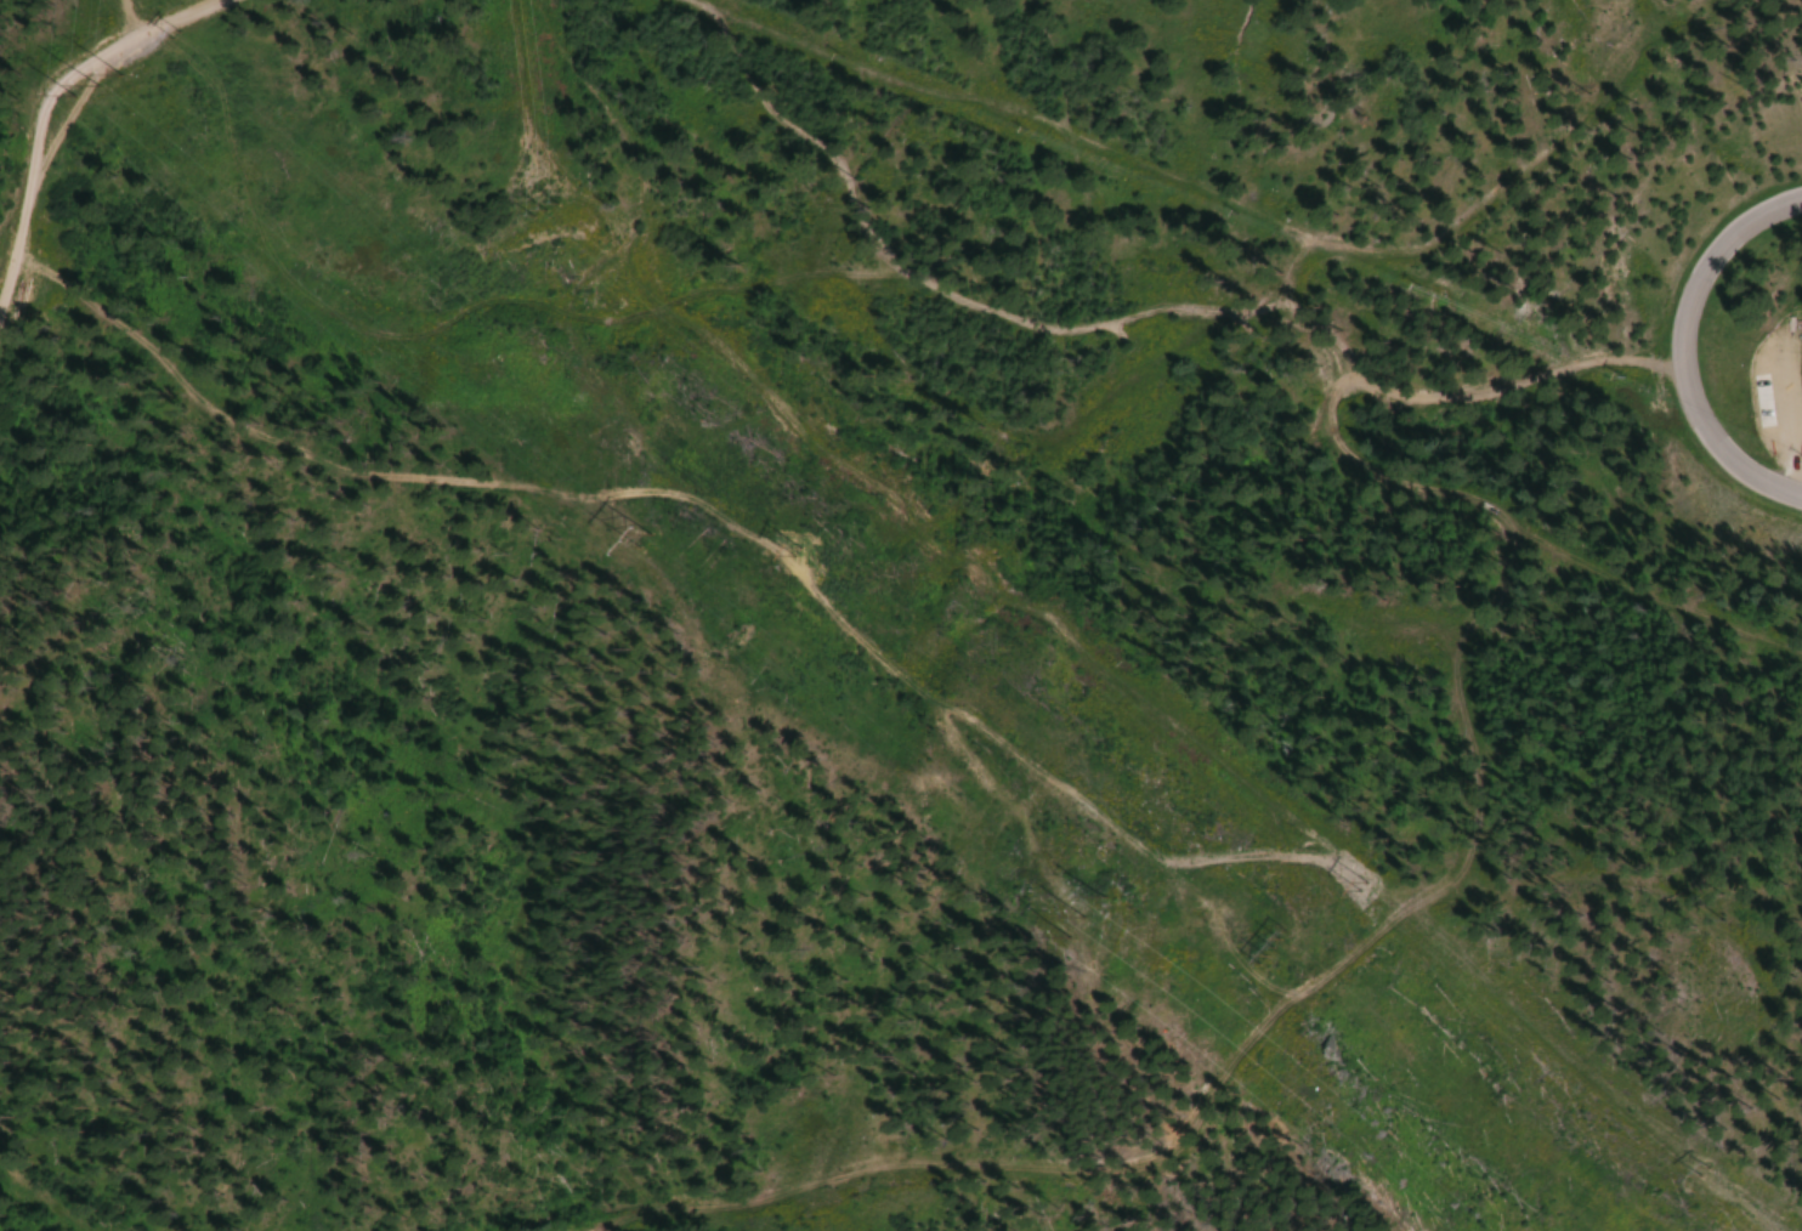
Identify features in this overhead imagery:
power tower: (101, 84)
road: (46, 107)
road: (1679, 345)
power tower: (640, 532)
building: (2, 624)
power tower: (1077, 912)
power tower: (1259, 951)

